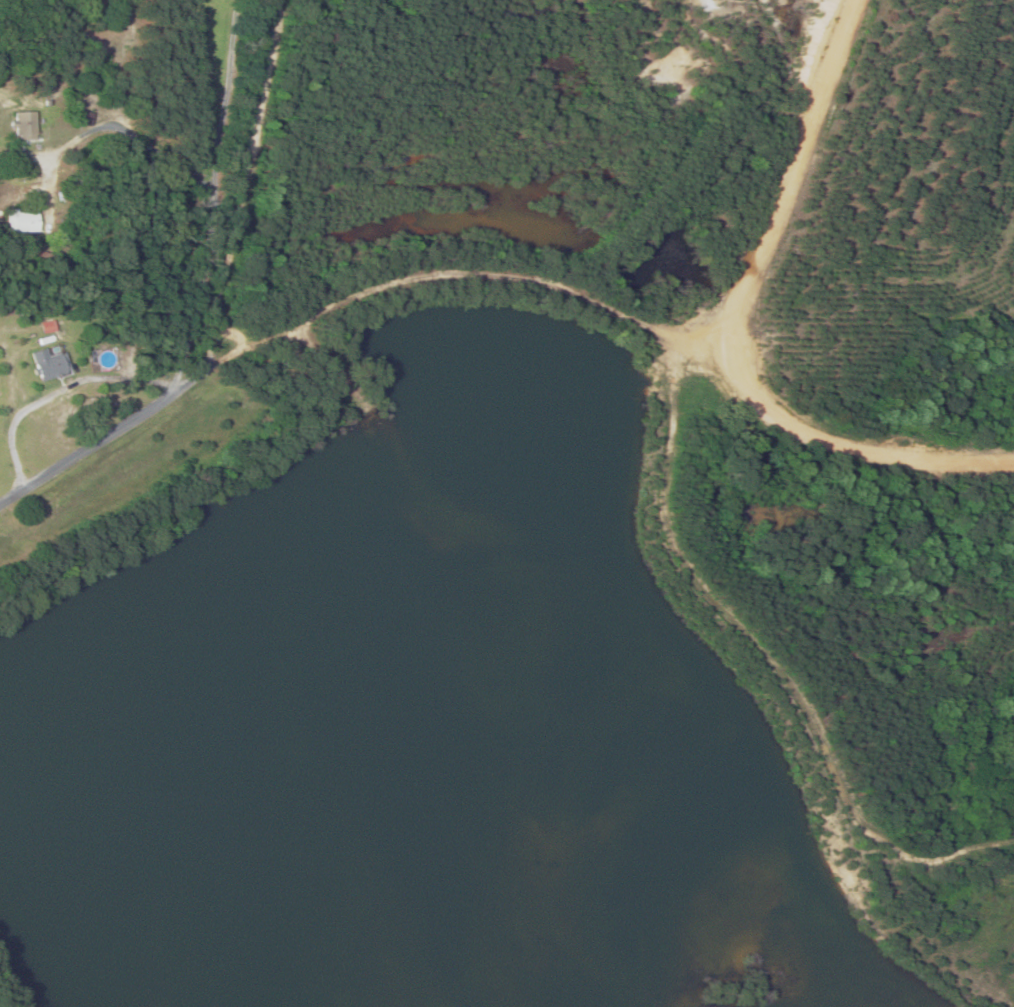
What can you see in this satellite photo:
building: (25, 125)
building: (23, 221)
road: (193, 297)
road: (596, 304)
building: (50, 365)

